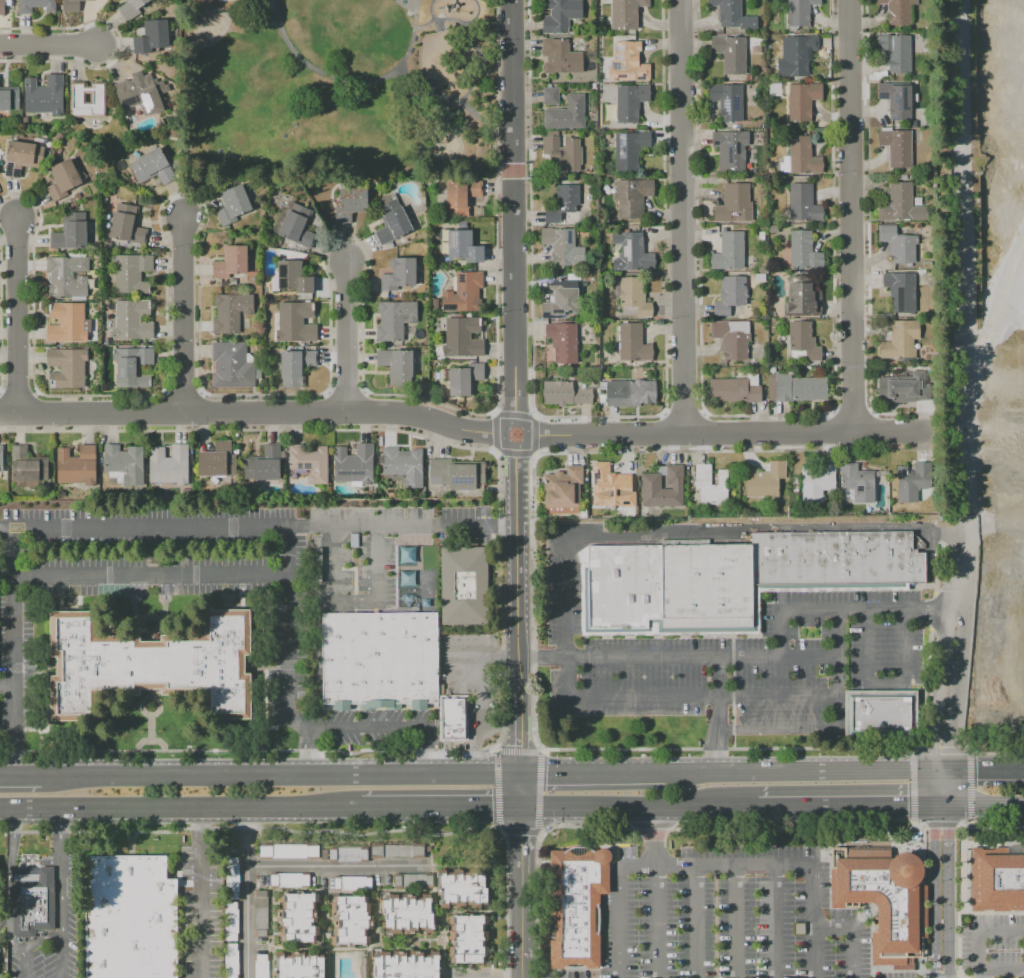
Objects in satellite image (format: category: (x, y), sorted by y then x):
building: (219, 0)
building: (247, 0)
building: (3, 5)
building: (35, 5)
building: (70, 6)
building: (131, 8)
road: (429, 9)
building: (898, 11)
building: (799, 12)
building: (626, 13)
building: (732, 14)
road: (476, 15)
building: (561, 15)
building: (152, 36)
road: (471, 40)
building: (913, 42)
road: (49, 47)
building: (896, 52)
building: (730, 53)
building: (800, 55)
building: (560, 57)
building: (627, 62)
building: (154, 67)
building: (748, 77)
road: (350, 80)
building: (774, 89)
park: (337, 90)
building: (139, 94)
building: (44, 95)
building: (550, 96)
building: (914, 97)
building: (9, 99)
building: (87, 99)
building: (802, 100)
building: (896, 100)
road: (452, 101)
building: (727, 101)
building: (627, 102)
building: (567, 113)
building: (29, 121)
building: (914, 124)
building: (761, 126)
building: (896, 147)
building: (629, 150)
building: (731, 150)
building: (562, 152)
building: (22, 157)
building: (800, 157)
building: (152, 166)
building: (63, 179)
building: (632, 196)
building: (460, 197)
building: (917, 201)
building: (350, 203)
building: (563, 203)
building: (734, 203)
building: (233, 204)
building: (803, 204)
building: (900, 204)
road: (514, 210)
road: (862, 216)
road: (692, 217)
building: (392, 222)
building: (127, 225)
building: (297, 226)
building: (773, 229)
building: (71, 232)
building: (761, 236)
building: (898, 244)
building: (110, 245)
building: (461, 246)
building: (563, 247)
building: (631, 251)
building: (729, 251)
building: (803, 251)
building: (230, 262)
building: (926, 265)
building: (919, 272)
building: (131, 273)
building: (399, 273)
building: (68, 276)
building: (293, 277)
building: (760, 277)
building: (239, 279)
building: (256, 280)
building: (900, 291)
building: (464, 293)
building: (730, 295)
building: (634, 297)
building: (802, 298)
building: (563, 299)
road: (967, 305)
building: (230, 312)
road: (183, 319)
building: (394, 319)
road: (21, 320)
building: (131, 320)
building: (67, 322)
building: (296, 322)
building: (463, 337)
building: (731, 338)
road: (346, 339)
building: (900, 340)
building: (803, 341)
building: (563, 342)
building: (632, 343)
building: (232, 365)
building: (396, 365)
building: (133, 366)
building: (295, 366)
building: (67, 367)
building: (803, 367)
building: (771, 370)
building: (465, 378)
building: (735, 388)
building: (796, 388)
building: (903, 389)
building: (629, 392)
building: (565, 393)
building: (599, 397)
road: (10, 411)
road: (514, 413)
road: (262, 414)
road: (495, 432)
road: (732, 433)
road: (534, 435)
road: (504, 440)
road: (514, 453)
building: (1, 457)
building: (214, 460)
building: (309, 462)
building: (124, 464)
building: (169, 464)
building: (354, 464)
building: (27, 465)
building: (76, 465)
building: (264, 465)
building: (403, 466)
building: (457, 473)
building: (882, 473)
building: (764, 481)
building: (911, 481)
building: (610, 482)
building: (816, 483)
building: (857, 483)
building: (794, 484)
building: (711, 485)
building: (661, 488)
building: (563, 491)
building: (139, 493)
building: (583, 514)
road: (257, 526)
road: (708, 528)
road: (149, 575)
building: (732, 577)
building: (463, 586)
road: (354, 603)
road: (515, 609)
road: (790, 610)
road: (929, 610)
road: (479, 648)
road: (14, 650)
road: (285, 657)
road: (617, 657)
parking lot: (728, 657)
building: (379, 661)
road: (486, 662)
building: (148, 665)
road: (466, 675)
road: (886, 684)
road: (7, 686)
road: (727, 697)
road: (486, 700)
road: (935, 706)
road: (954, 708)
building: (881, 712)
road: (716, 714)
building: (452, 719)
road: (502, 725)
road: (389, 728)
road: (793, 730)
road: (472, 746)
traffic signals: (932, 747)
road: (978, 771)
traffic signals: (516, 772)
road: (591, 772)
road: (799, 772)
traffic signals: (974, 772)
road: (279, 773)
road: (21, 774)
road: (987, 806)
road: (837, 807)
traffic signals: (910, 807)
road: (621, 810)
road: (182, 811)
road: (441, 812)
traffic signals: (518, 812)
traffic signals: (952, 828)
building: (397, 850)
building: (288, 851)
building: (348, 853)
road: (340, 866)
road: (716, 868)
road: (62, 871)
road: (517, 874)
building: (232, 878)
building: (997, 879)
building: (289, 880)
building: (413, 880)
building: (352, 884)
road: (10, 885)
building: (461, 888)
road: (934, 892)
road: (951, 892)
road: (656, 893)
road: (197, 895)
road: (249, 895)
building: (32, 900)
building: (884, 901)
building: (575, 905)
building: (262, 913)
building: (410, 915)
building: (298, 917)
building: (130, 918)
building: (354, 920)
parking lot: (759, 920)
road: (5, 921)
building: (231, 922)
road: (695, 923)
road: (736, 923)
road: (775, 923)
road: (852, 934)
road: (979, 935)
building: (468, 939)
road: (31, 946)
road: (63, 955)
building: (230, 960)
building: (298, 965)
building: (406, 965)
building: (261, 966)
building: (363, 967)
road: (1002, 969)
building: (3, 976)

